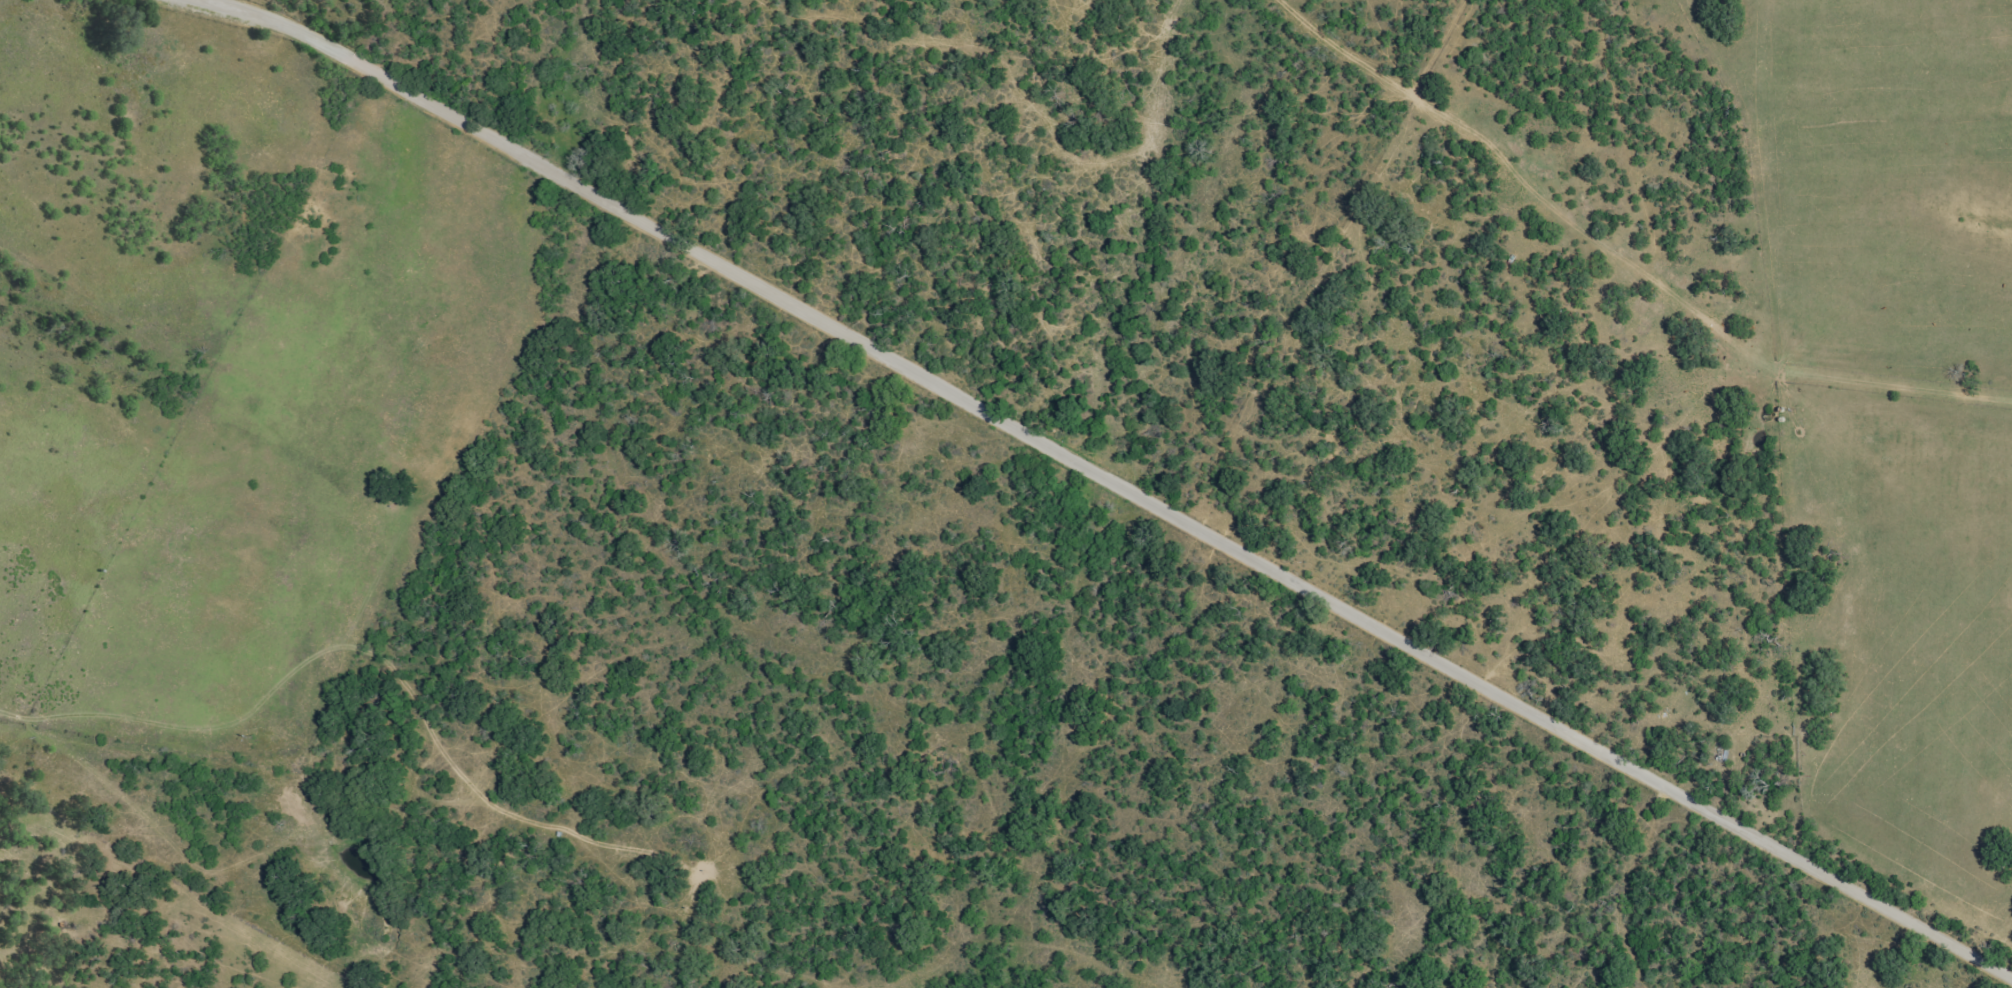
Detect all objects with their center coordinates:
road: (1116, 483)

